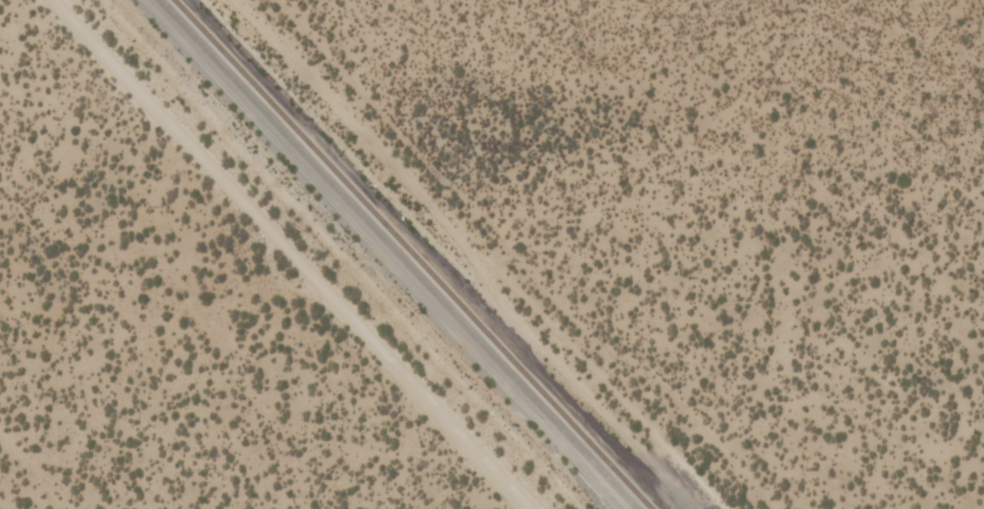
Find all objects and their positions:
road: (462, 249)
road: (246, 254)
railway: (395, 254)
railway: (410, 254)
road: (530, 256)
road: (33, 473)

